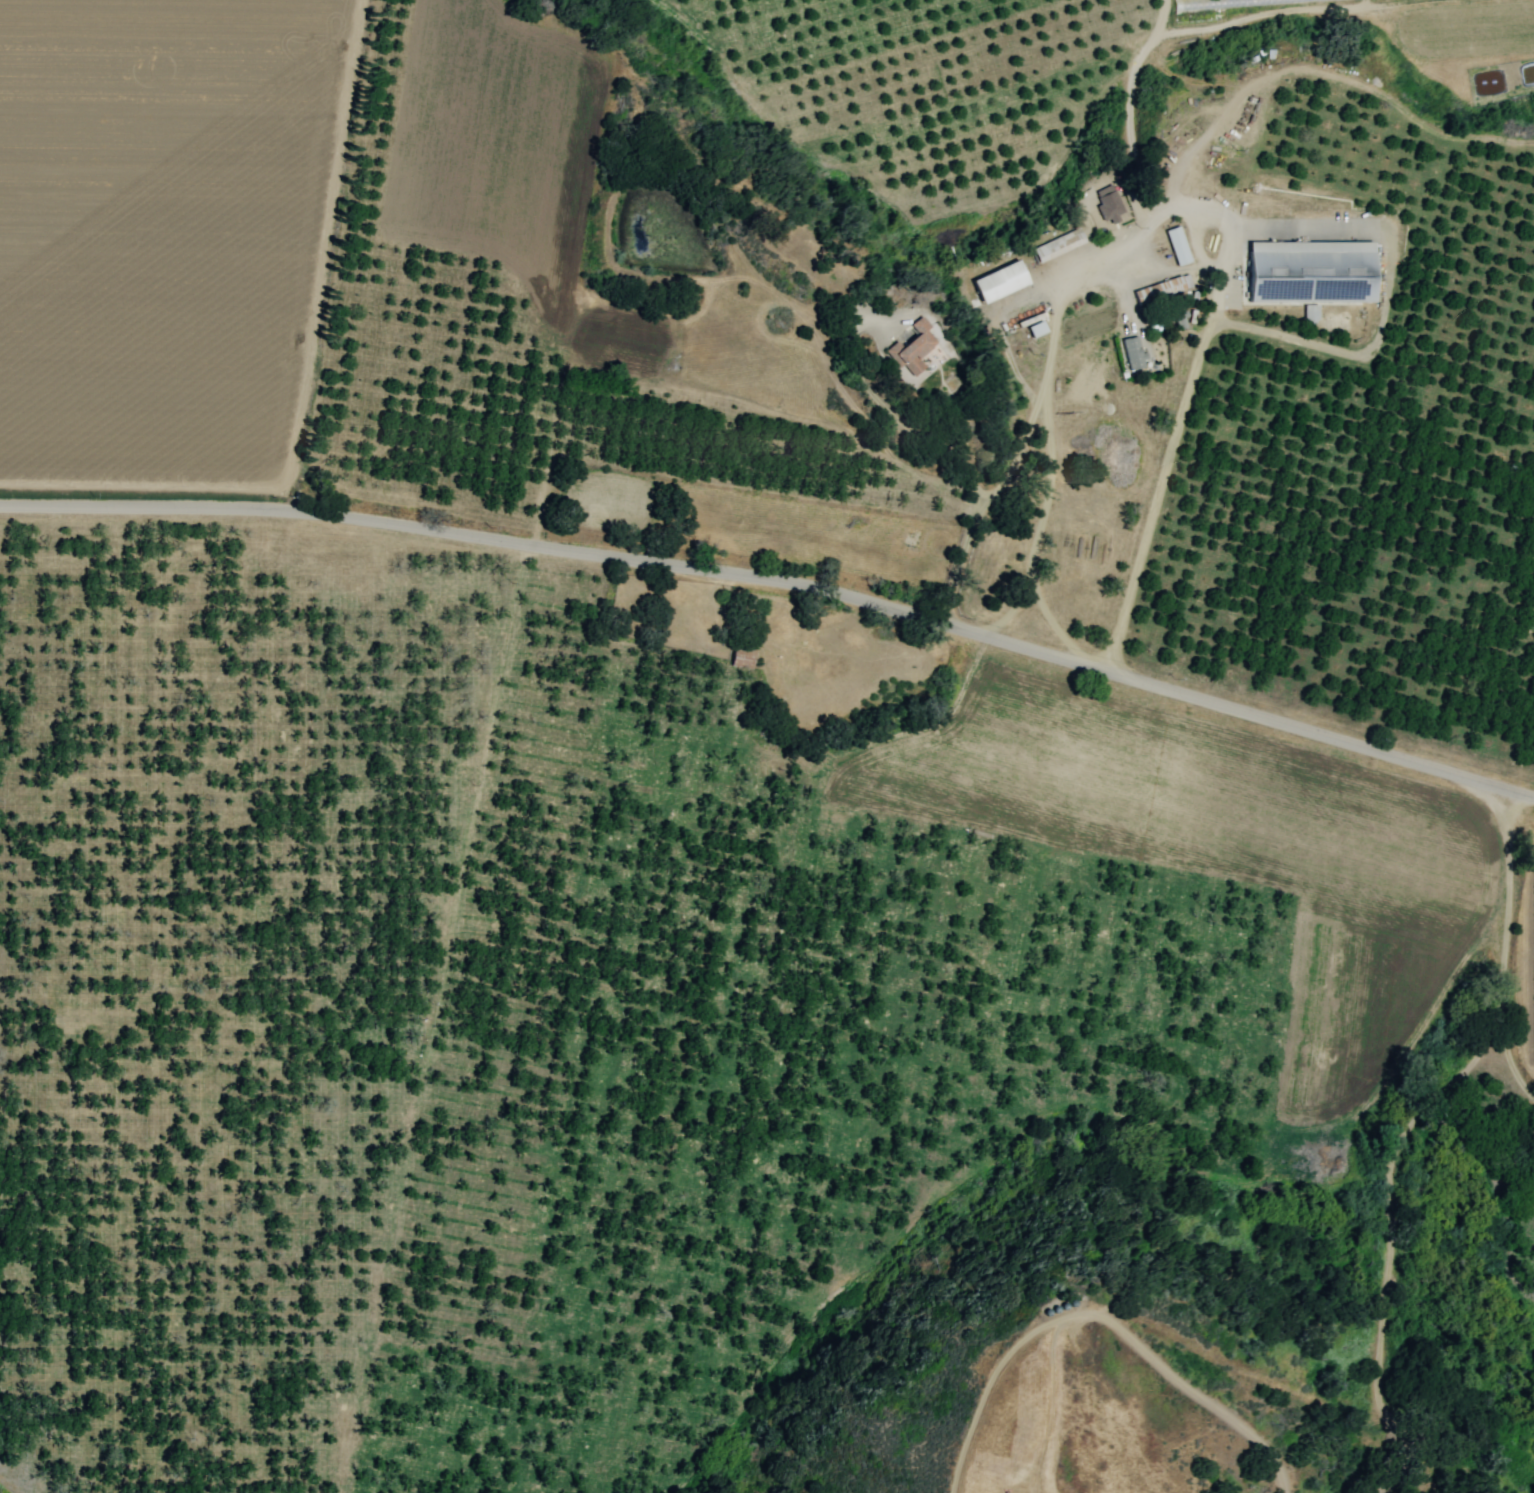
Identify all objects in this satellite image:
building: (1108, 202)
building: (1057, 244)
building: (1177, 245)
building: (1312, 270)
building: (1001, 281)
building: (1162, 288)
building: (914, 349)
building: (1132, 353)
road: (944, 458)
road: (1042, 463)
road: (780, 584)
building: (741, 657)
crop: (688, 729)
road: (1501, 959)

